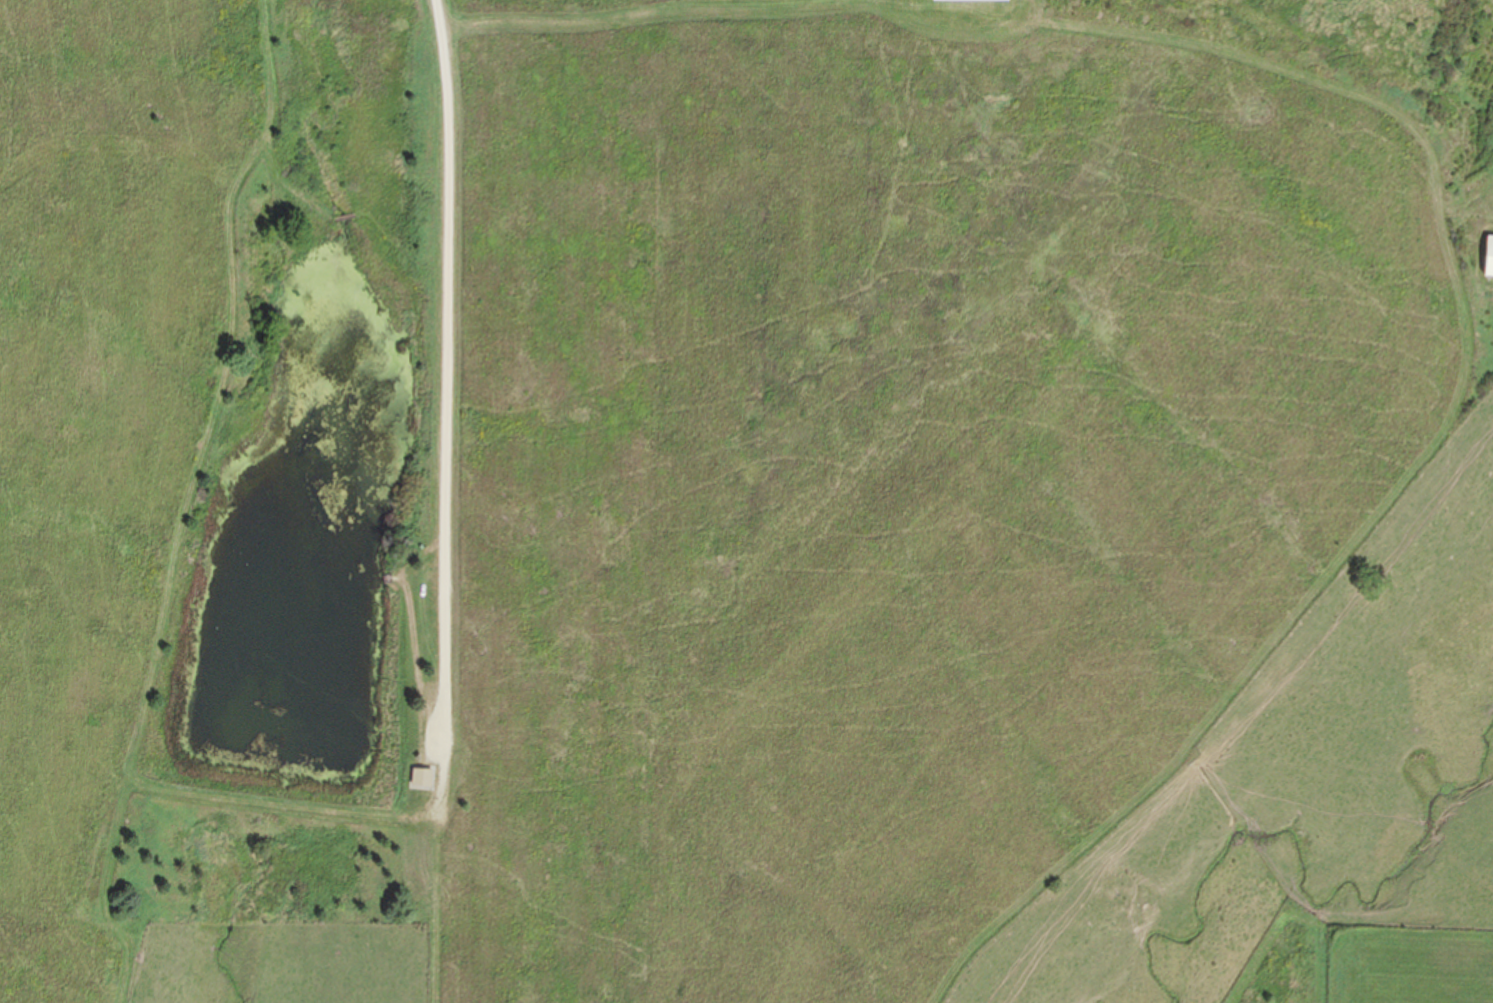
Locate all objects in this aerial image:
building: (971, 0)
road: (908, 2)
road: (546, 14)
building: (1488, 257)
road: (452, 375)
road: (1469, 387)
road: (193, 501)
pier: (386, 581)
road: (420, 657)
building: (425, 776)
road: (317, 812)
road: (438, 908)

